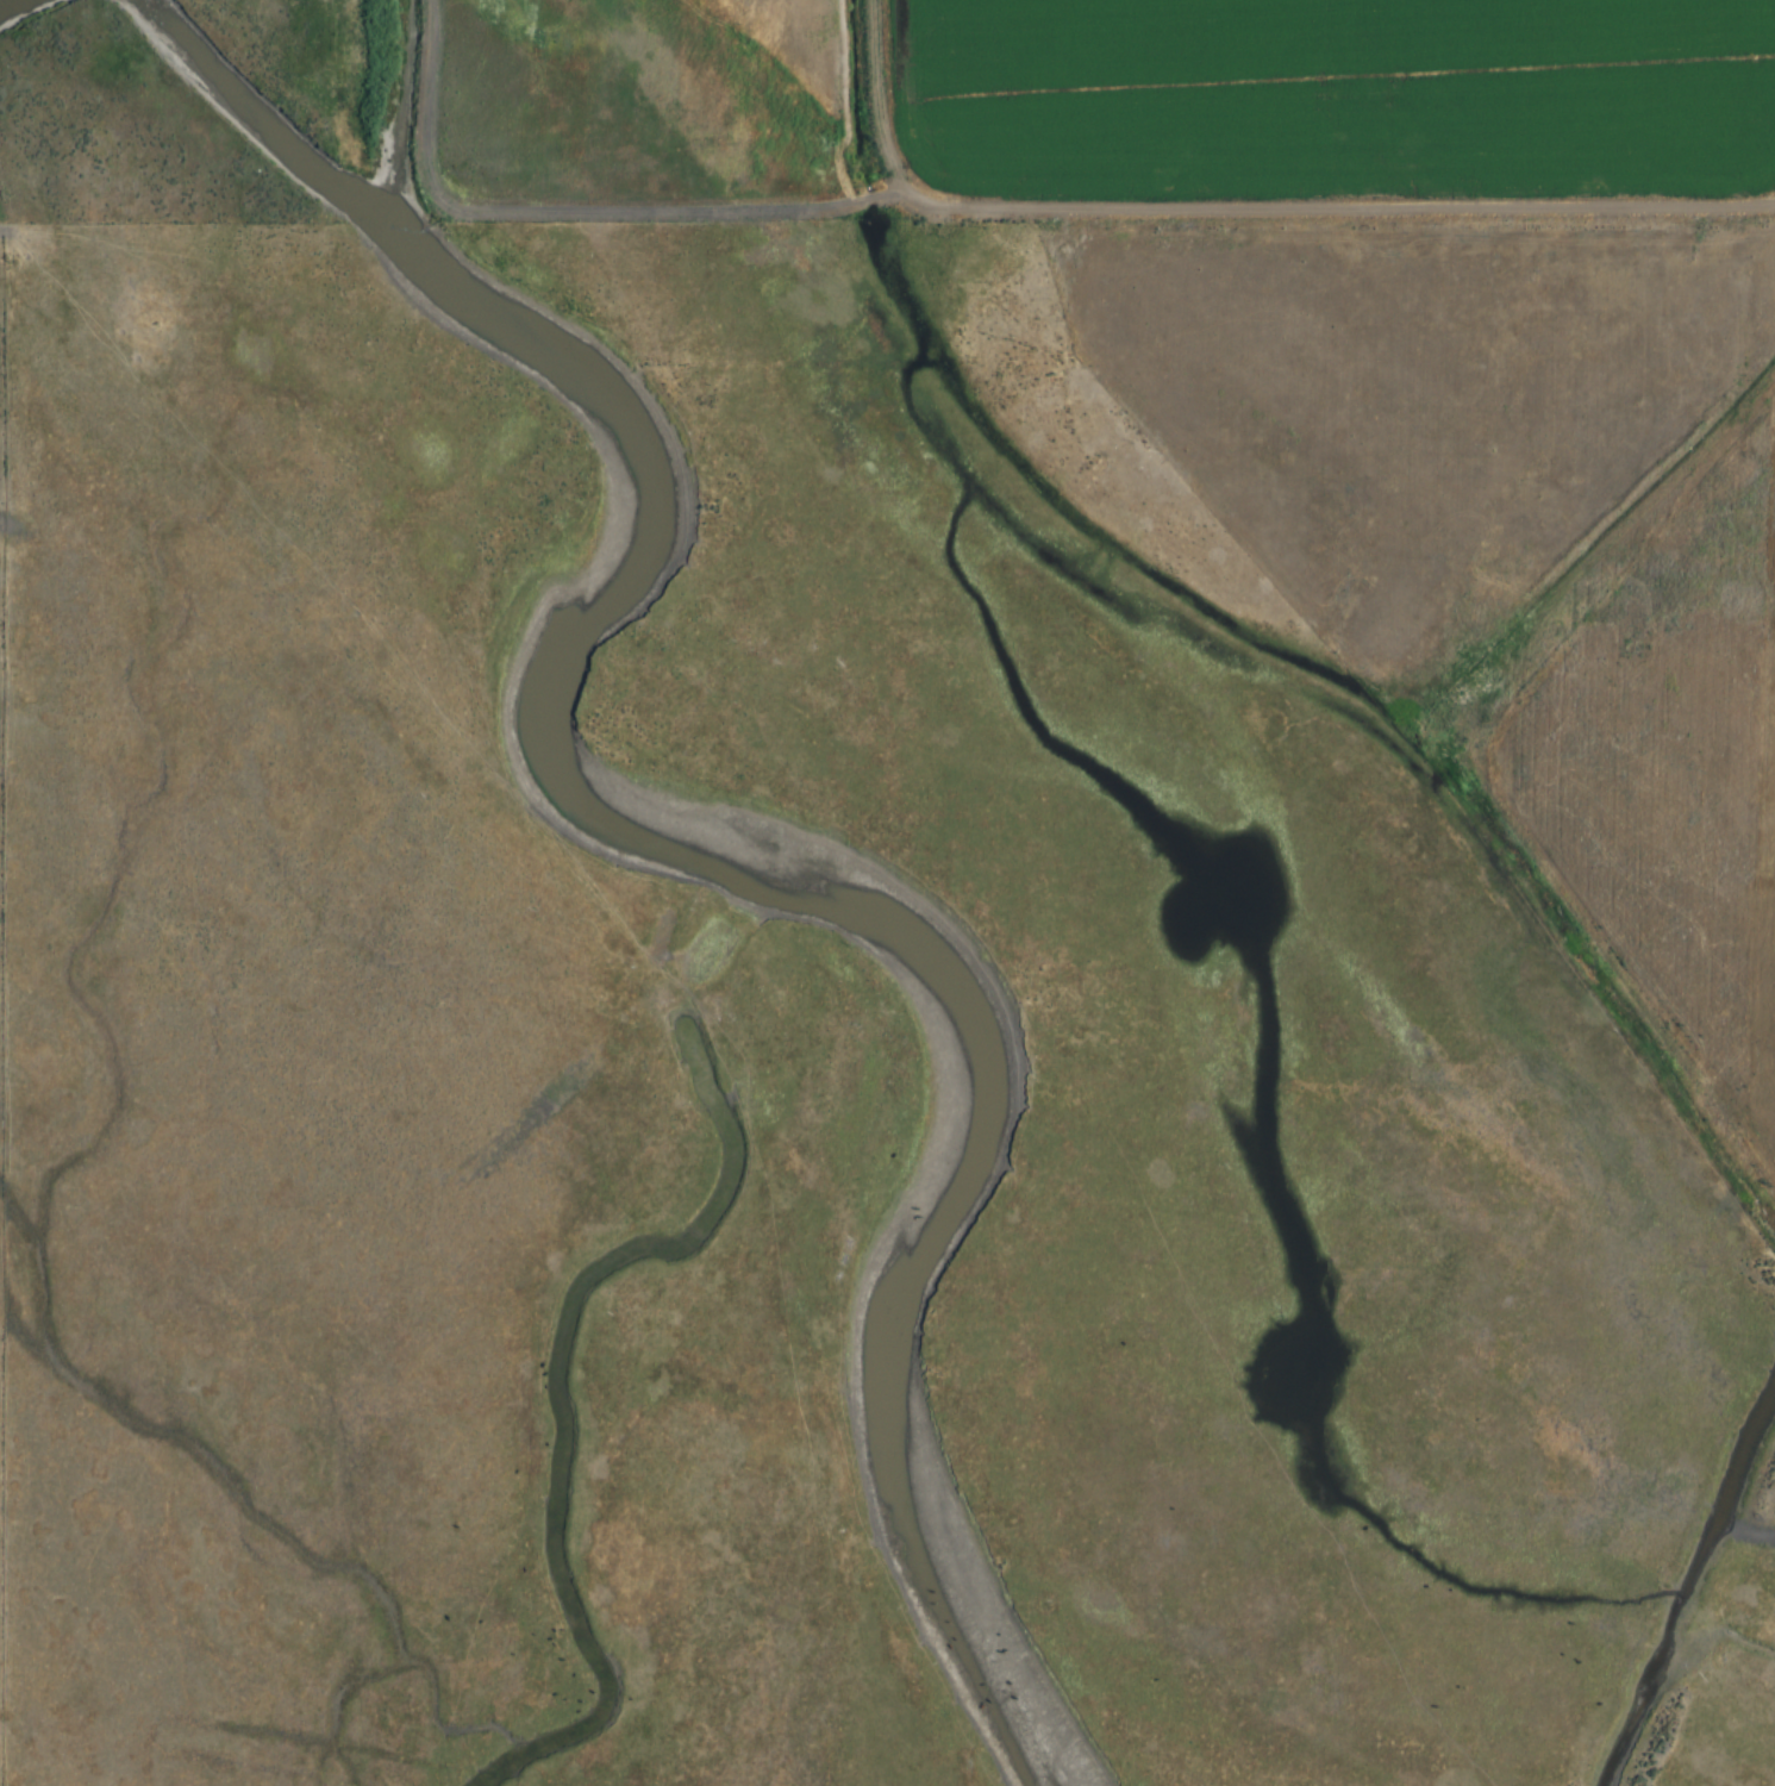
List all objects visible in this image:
crop: (1568, 98)
crop: (1118, 99)
crop: (655, 102)
road: (1238, 216)
crop: (1351, 405)
crop: (1655, 767)
river: (735, 845)

